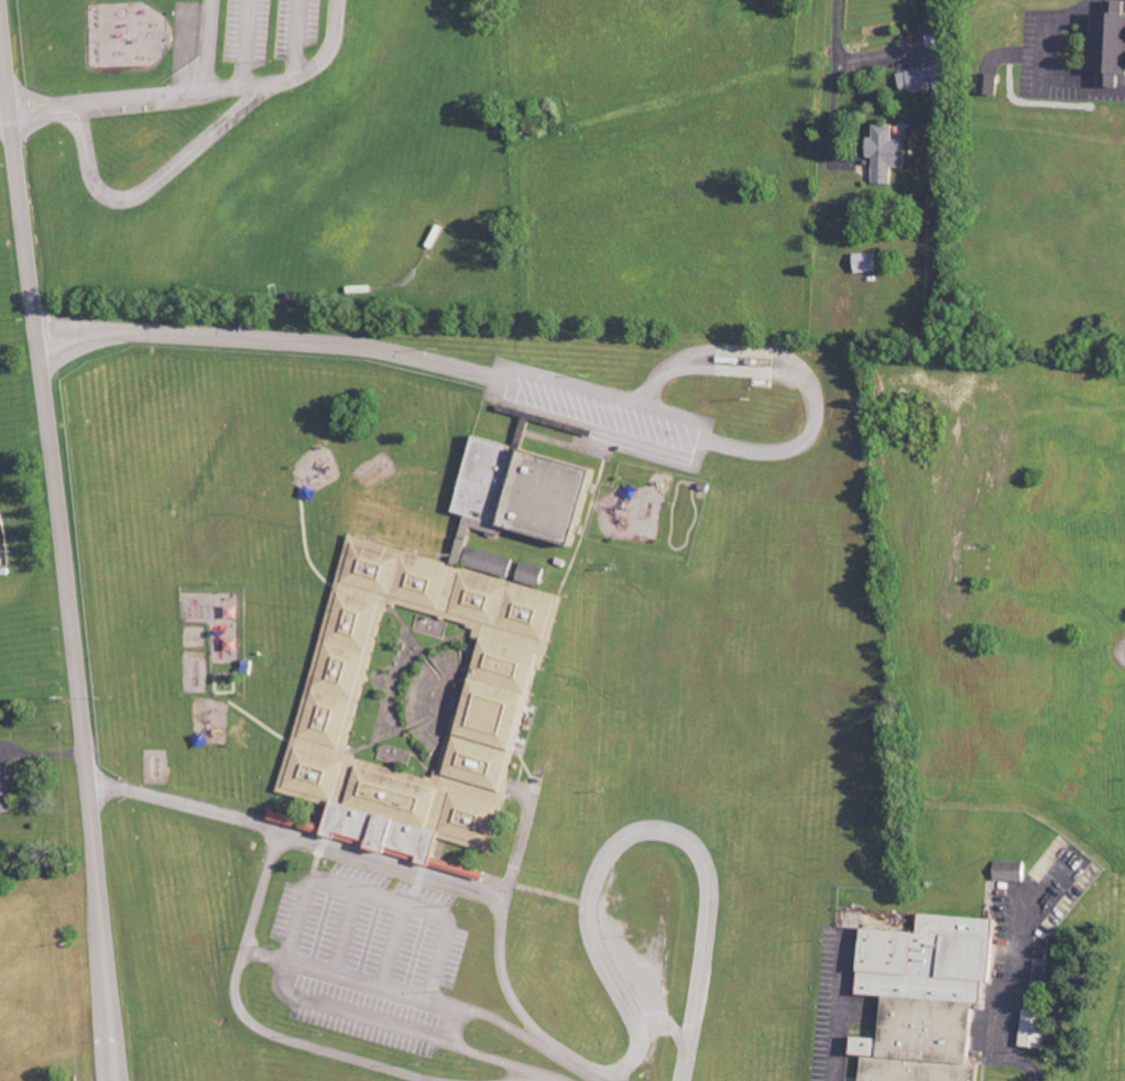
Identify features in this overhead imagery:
road: (839, 37)
building: (1112, 44)
building: (926, 78)
road: (253, 84)
building: (990, 84)
road: (103, 101)
building: (887, 153)
road: (155, 183)
building: (866, 262)
road: (1100, 291)
road: (271, 340)
building: (514, 504)
building: (381, 528)
road: (66, 539)
building: (535, 574)
building: (506, 683)
building: (7, 793)
building: (316, 827)
road: (649, 831)
building: (1013, 872)
road: (471, 886)
road: (256, 906)
building: (929, 997)
road: (840, 1009)
road: (356, 1016)
road: (511, 1026)
road: (460, 1027)
building: (1038, 1029)
road: (302, 1039)
road: (1012, 1042)
road: (503, 1062)
road: (578, 1064)

